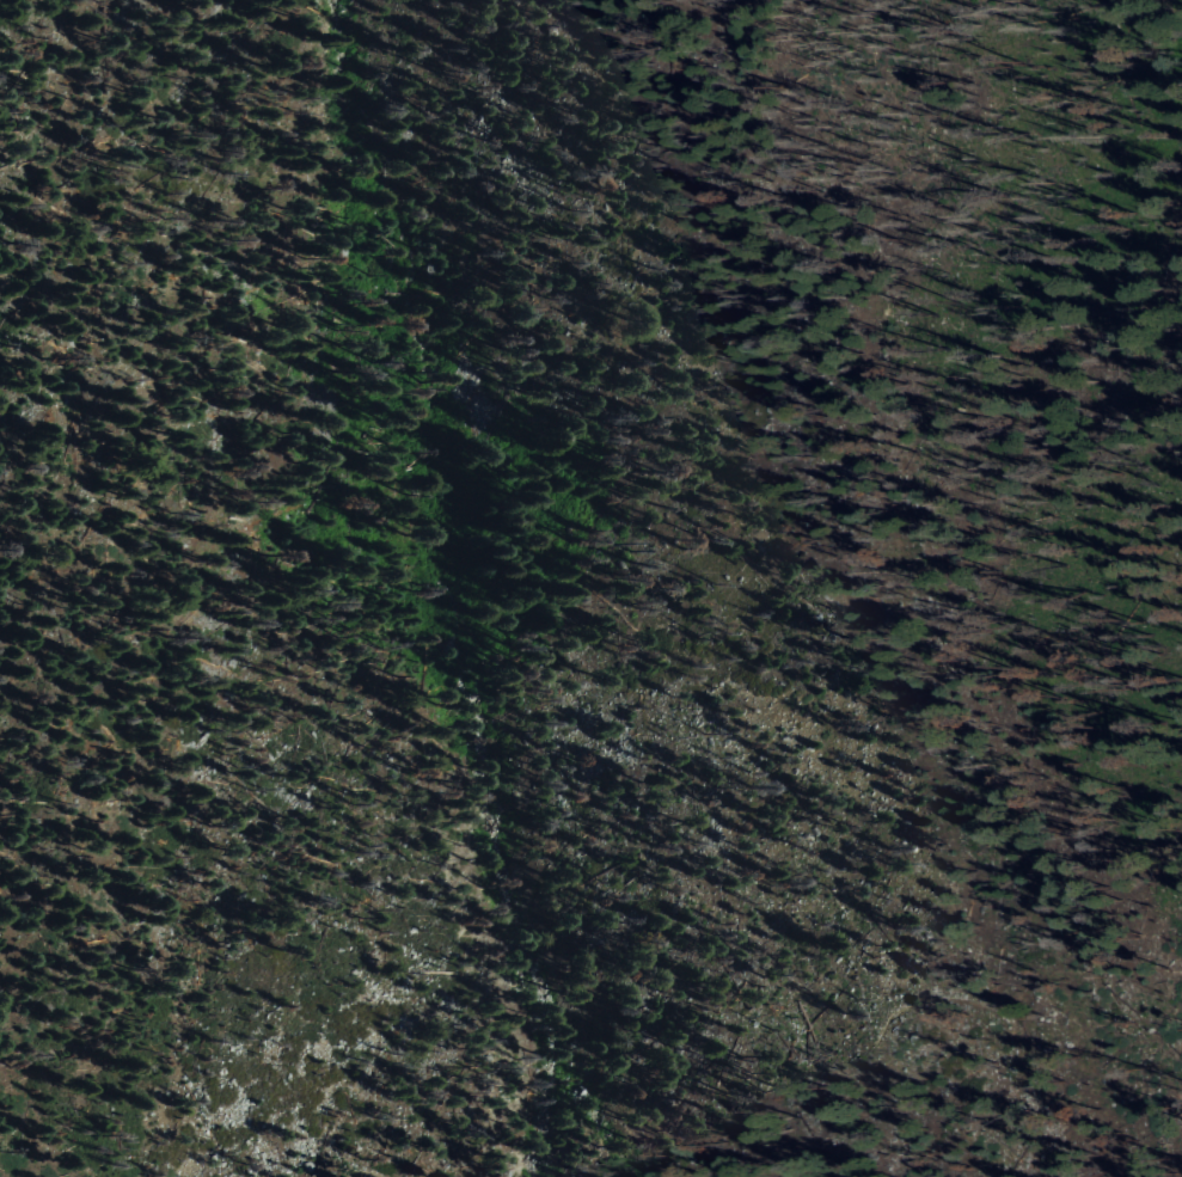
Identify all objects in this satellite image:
road: (911, 1001)
road: (45, 1144)
road: (351, 1161)

